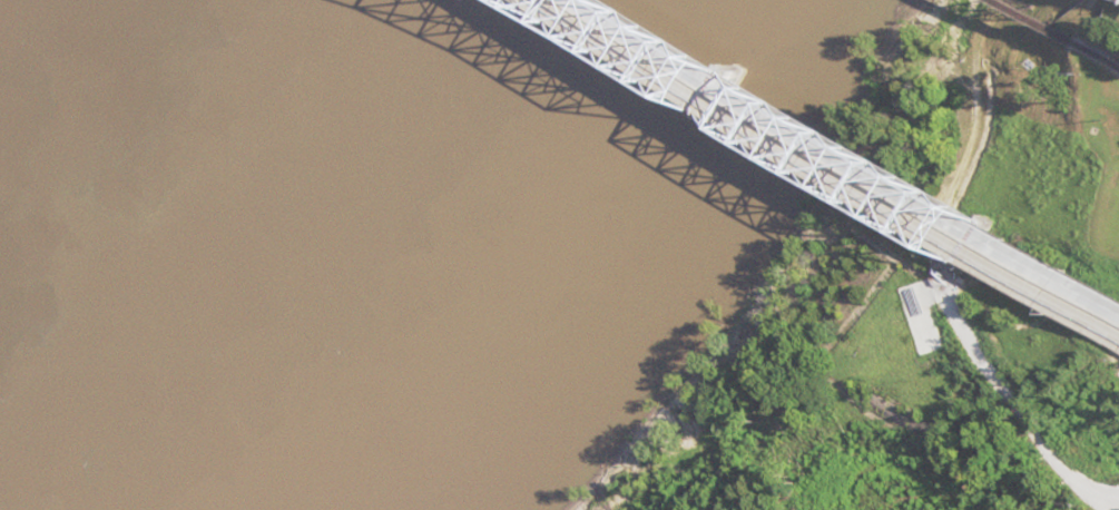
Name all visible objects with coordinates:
road: (1109, 1)
railway: (1019, 24)
railway: (1097, 57)
road: (830, 167)
road: (807, 180)
road: (1118, 343)
road: (976, 351)
road: (847, 423)

